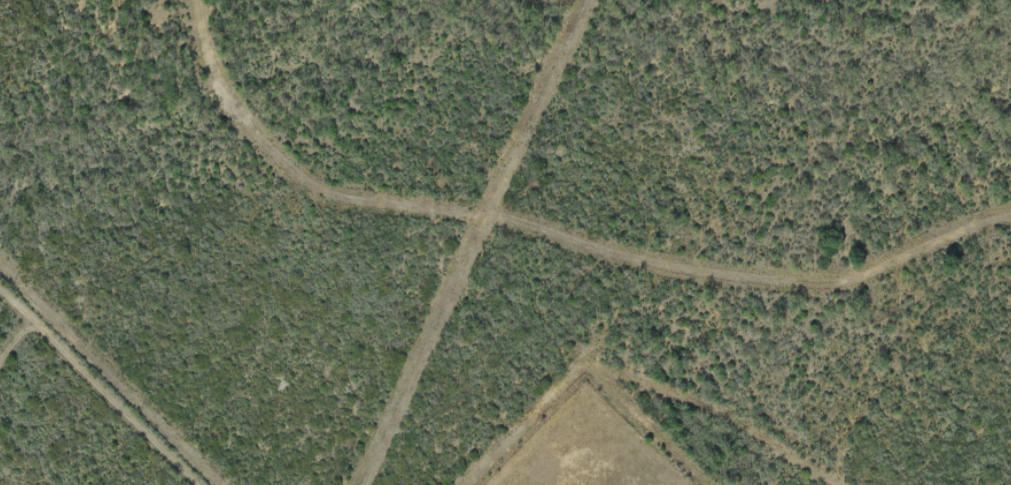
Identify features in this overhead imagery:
road: (436, 245)
road: (534, 316)
road: (127, 359)
road: (89, 390)

